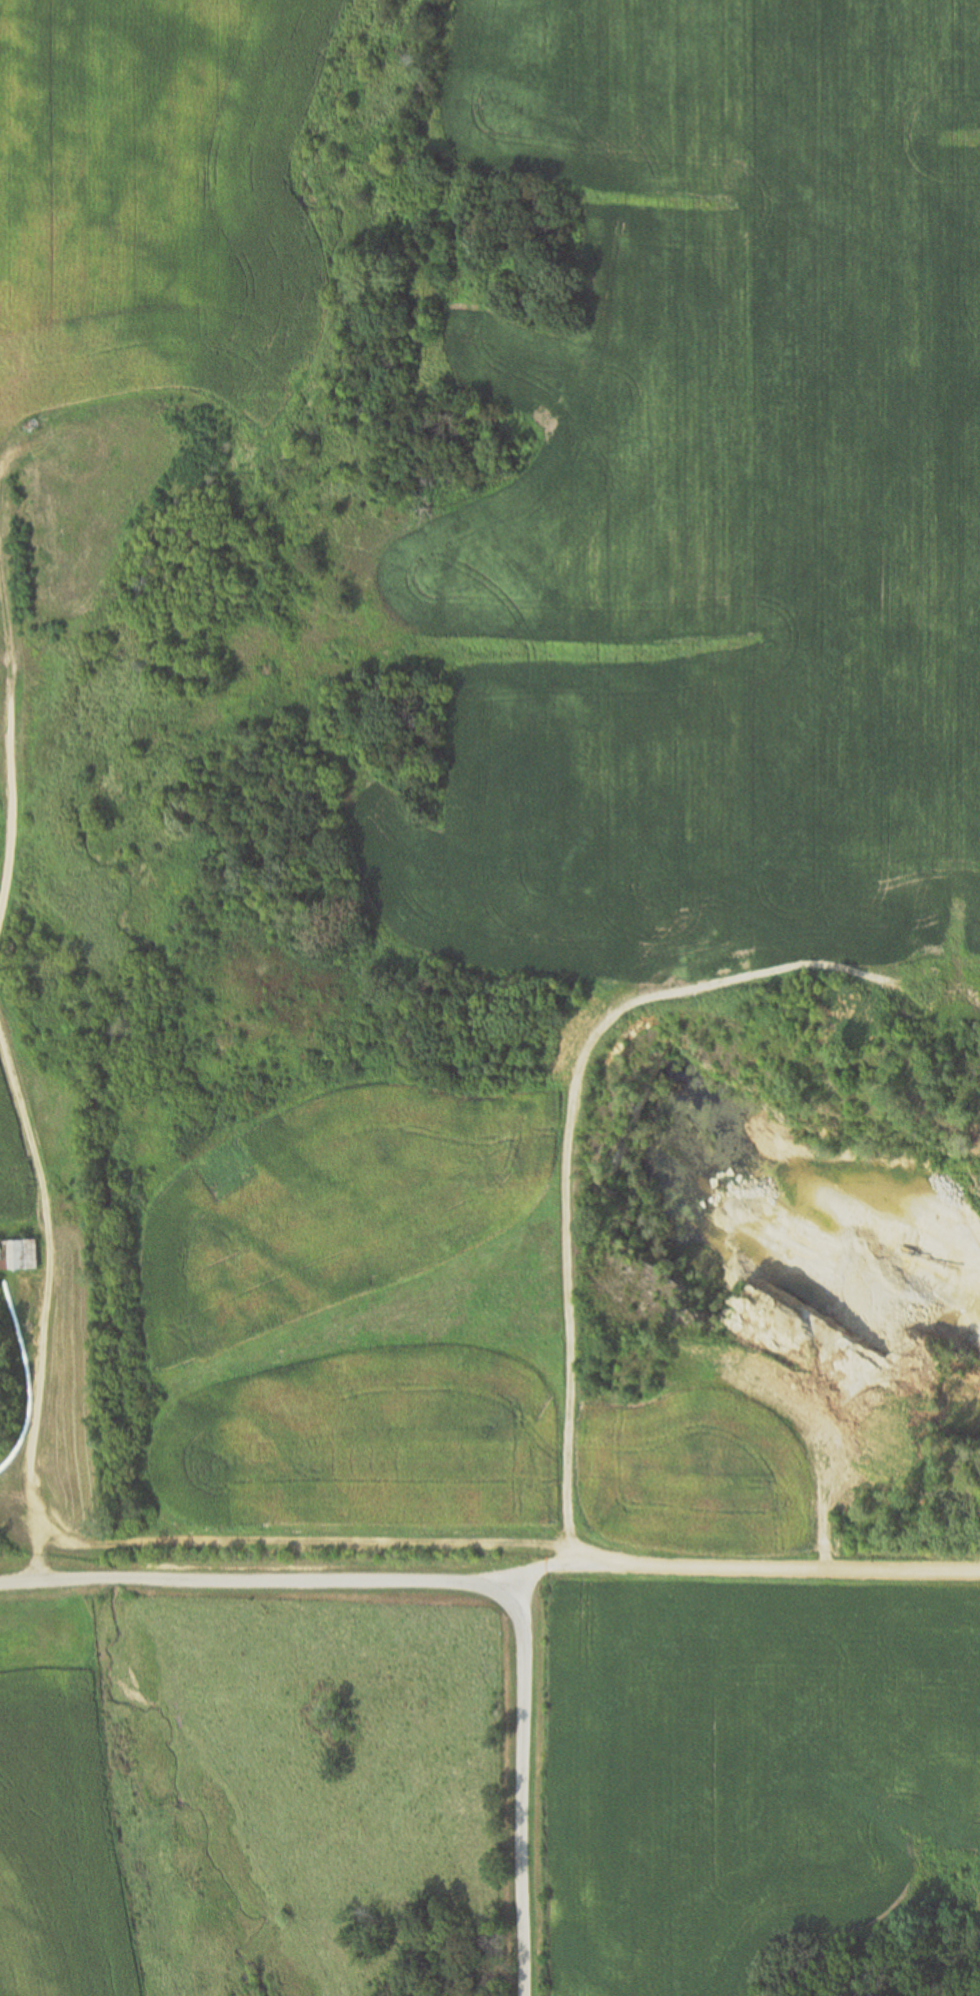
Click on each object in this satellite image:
road: (15, 828)
building: (23, 1255)
building: (2, 1256)
road: (569, 1291)
road: (42, 1297)
road: (302, 1545)
road: (736, 1570)
road: (454, 1585)

